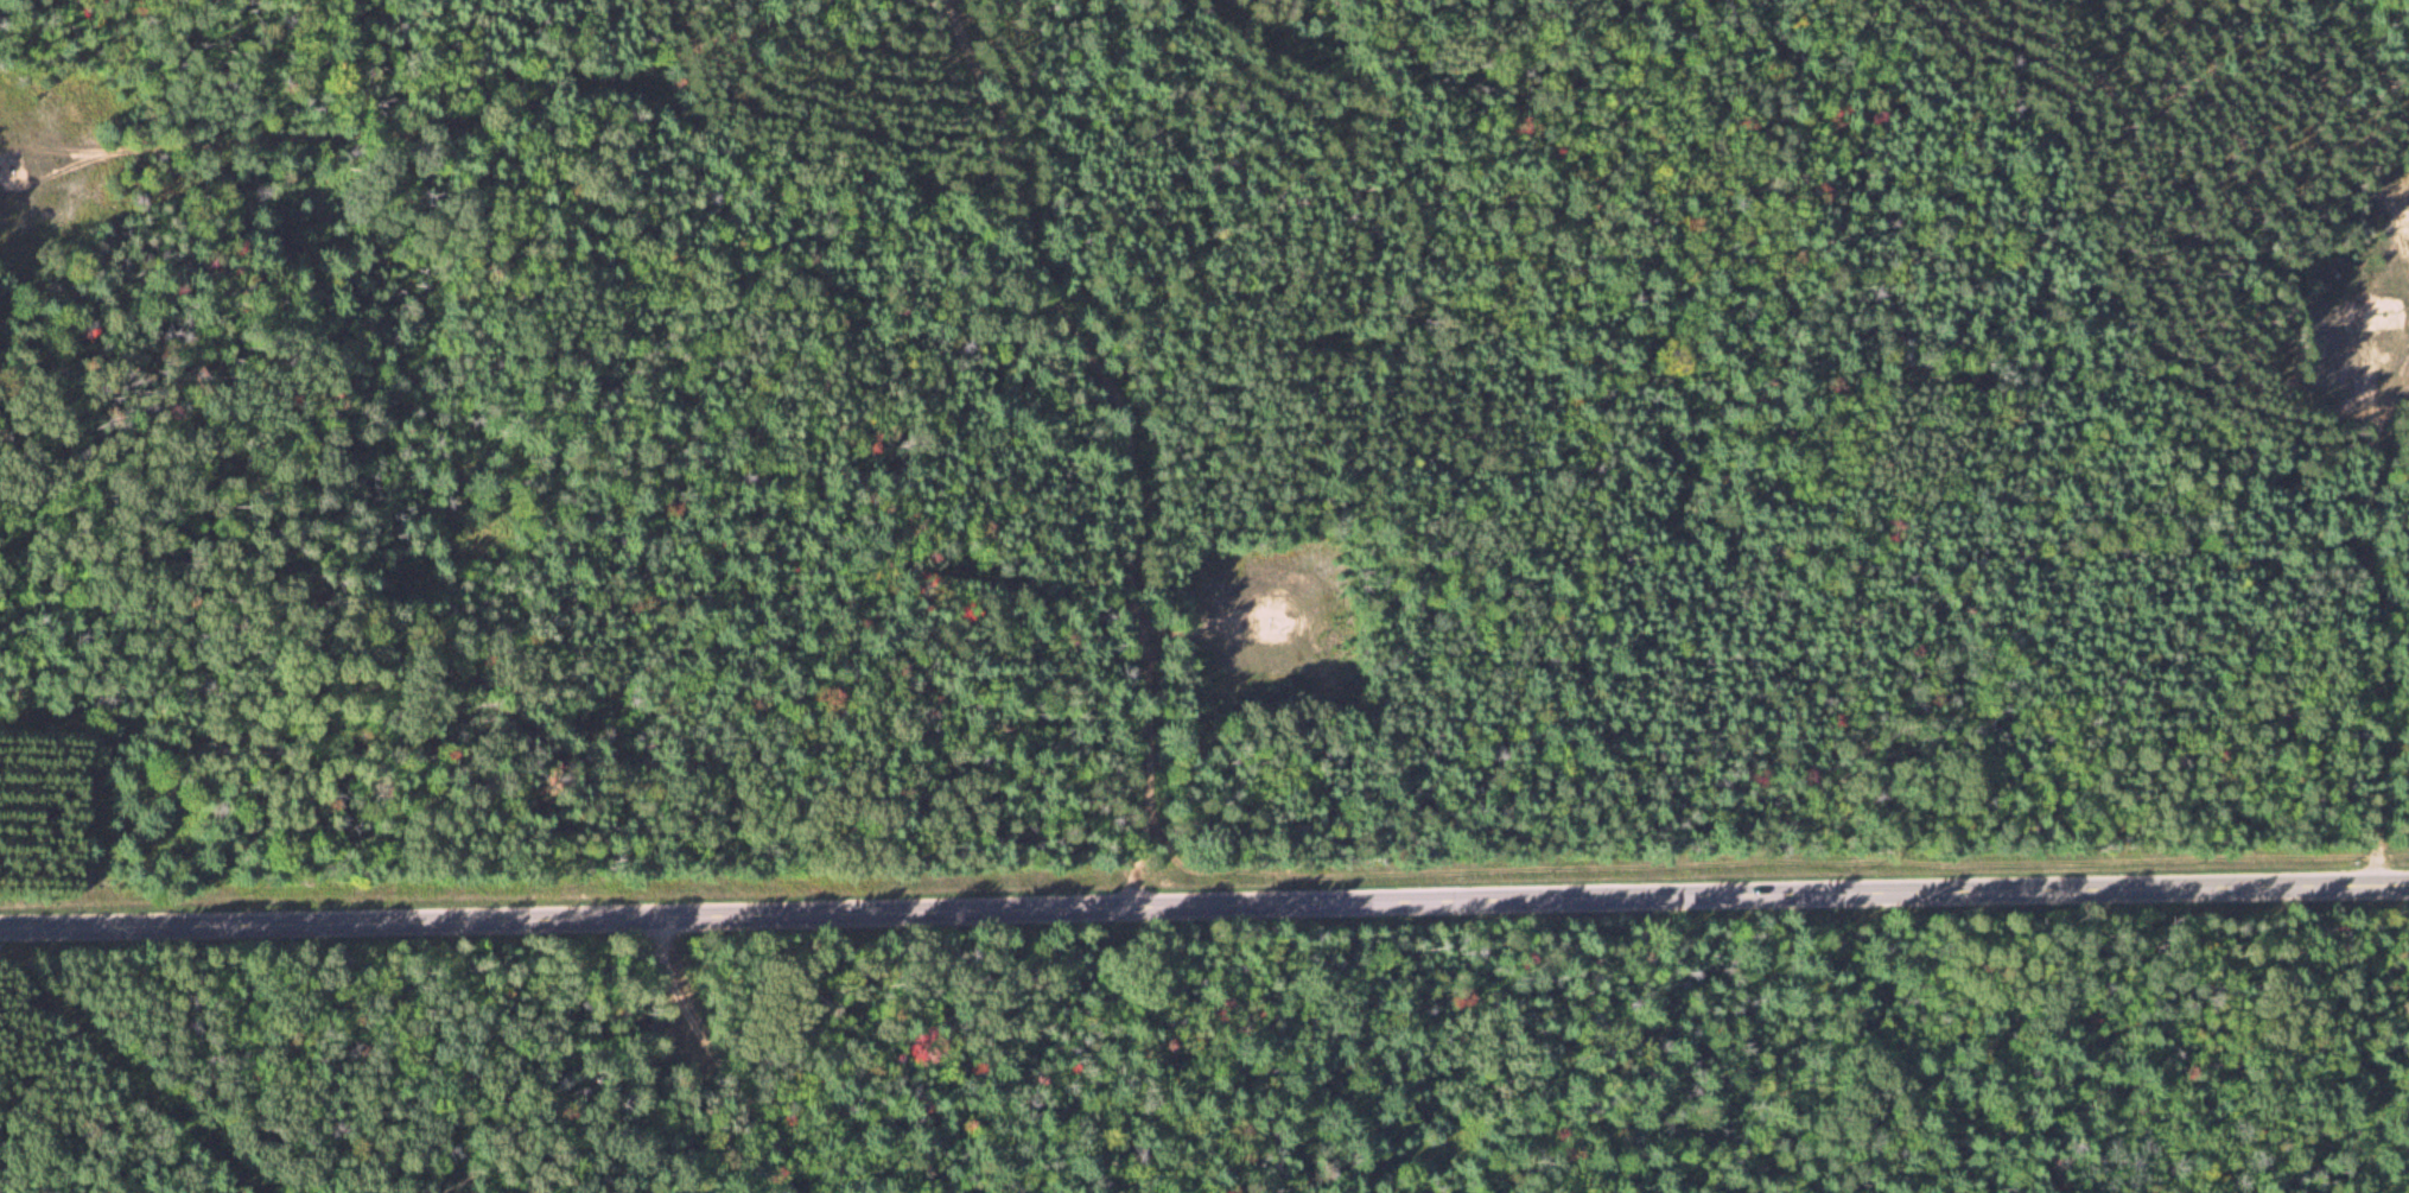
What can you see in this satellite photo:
road: (432, 115)
petroleum well: (1, 156)
petroleum well: (2371, 304)
road: (1115, 439)
petroleum well: (1269, 610)
road: (2364, 615)
road: (1203, 640)
road: (1204, 910)
road: (699, 1071)
road: (47, 1079)

